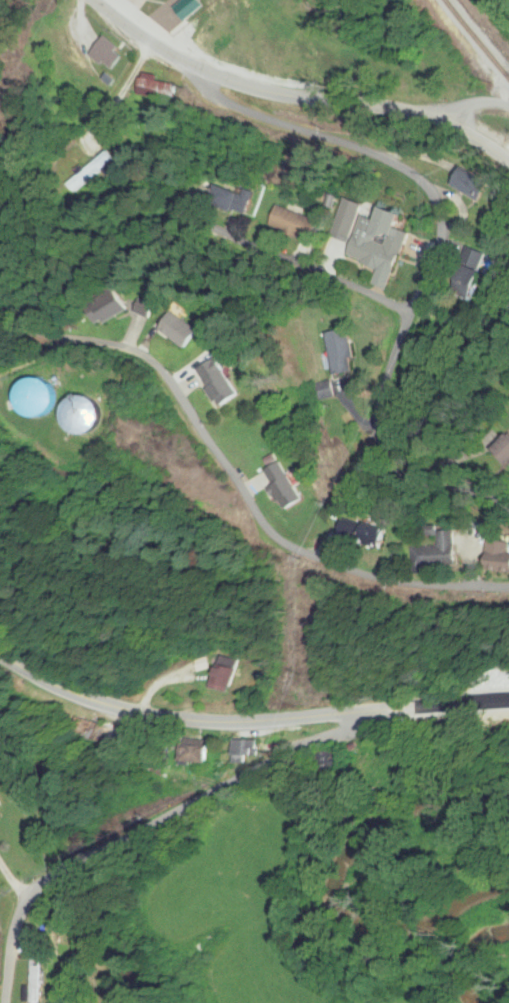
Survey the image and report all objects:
building: (170, 1)
building: (178, 13)
railway: (480, 37)
road: (295, 97)
road: (469, 107)
building: (472, 186)
building: (296, 222)
building: (380, 241)
road: (294, 267)
road: (431, 269)
building: (109, 309)
building: (146, 311)
building: (180, 331)
building: (220, 384)
building: (40, 400)
building: (86, 417)
road: (413, 428)
road: (238, 485)
building: (286, 488)
building: (364, 533)
building: (443, 551)
building: (501, 558)
building: (227, 675)
road: (248, 721)
building: (107, 733)
building: (245, 749)
building: (196, 754)
building: (0, 805)
road: (150, 826)
building: (33, 985)

